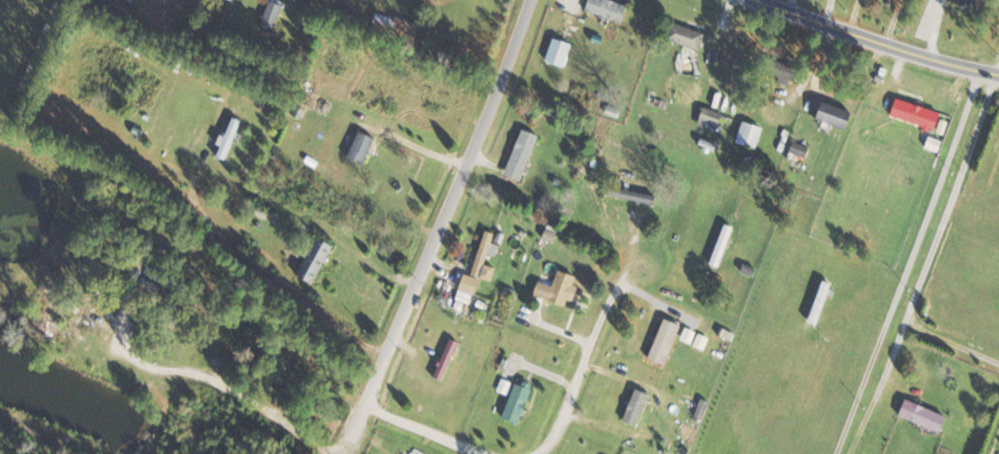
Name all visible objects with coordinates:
road: (791, 4)
building: (606, 9)
road: (829, 10)
building: (270, 15)
building: (381, 21)
building: (683, 36)
road: (880, 39)
building: (557, 52)
building: (778, 72)
road: (997, 72)
building: (914, 114)
building: (831, 116)
building: (709, 119)
building: (748, 135)
building: (227, 138)
building: (797, 153)
building: (520, 154)
building: (630, 195)
road: (435, 226)
road: (941, 229)
building: (721, 245)
building: (312, 260)
road: (910, 263)
building: (480, 264)
road: (266, 270)
building: (143, 279)
building: (554, 288)
road: (664, 301)
building: (662, 342)
road: (579, 370)
building: (515, 402)
building: (635, 407)
building: (920, 415)
road: (655, 418)
road: (424, 430)

